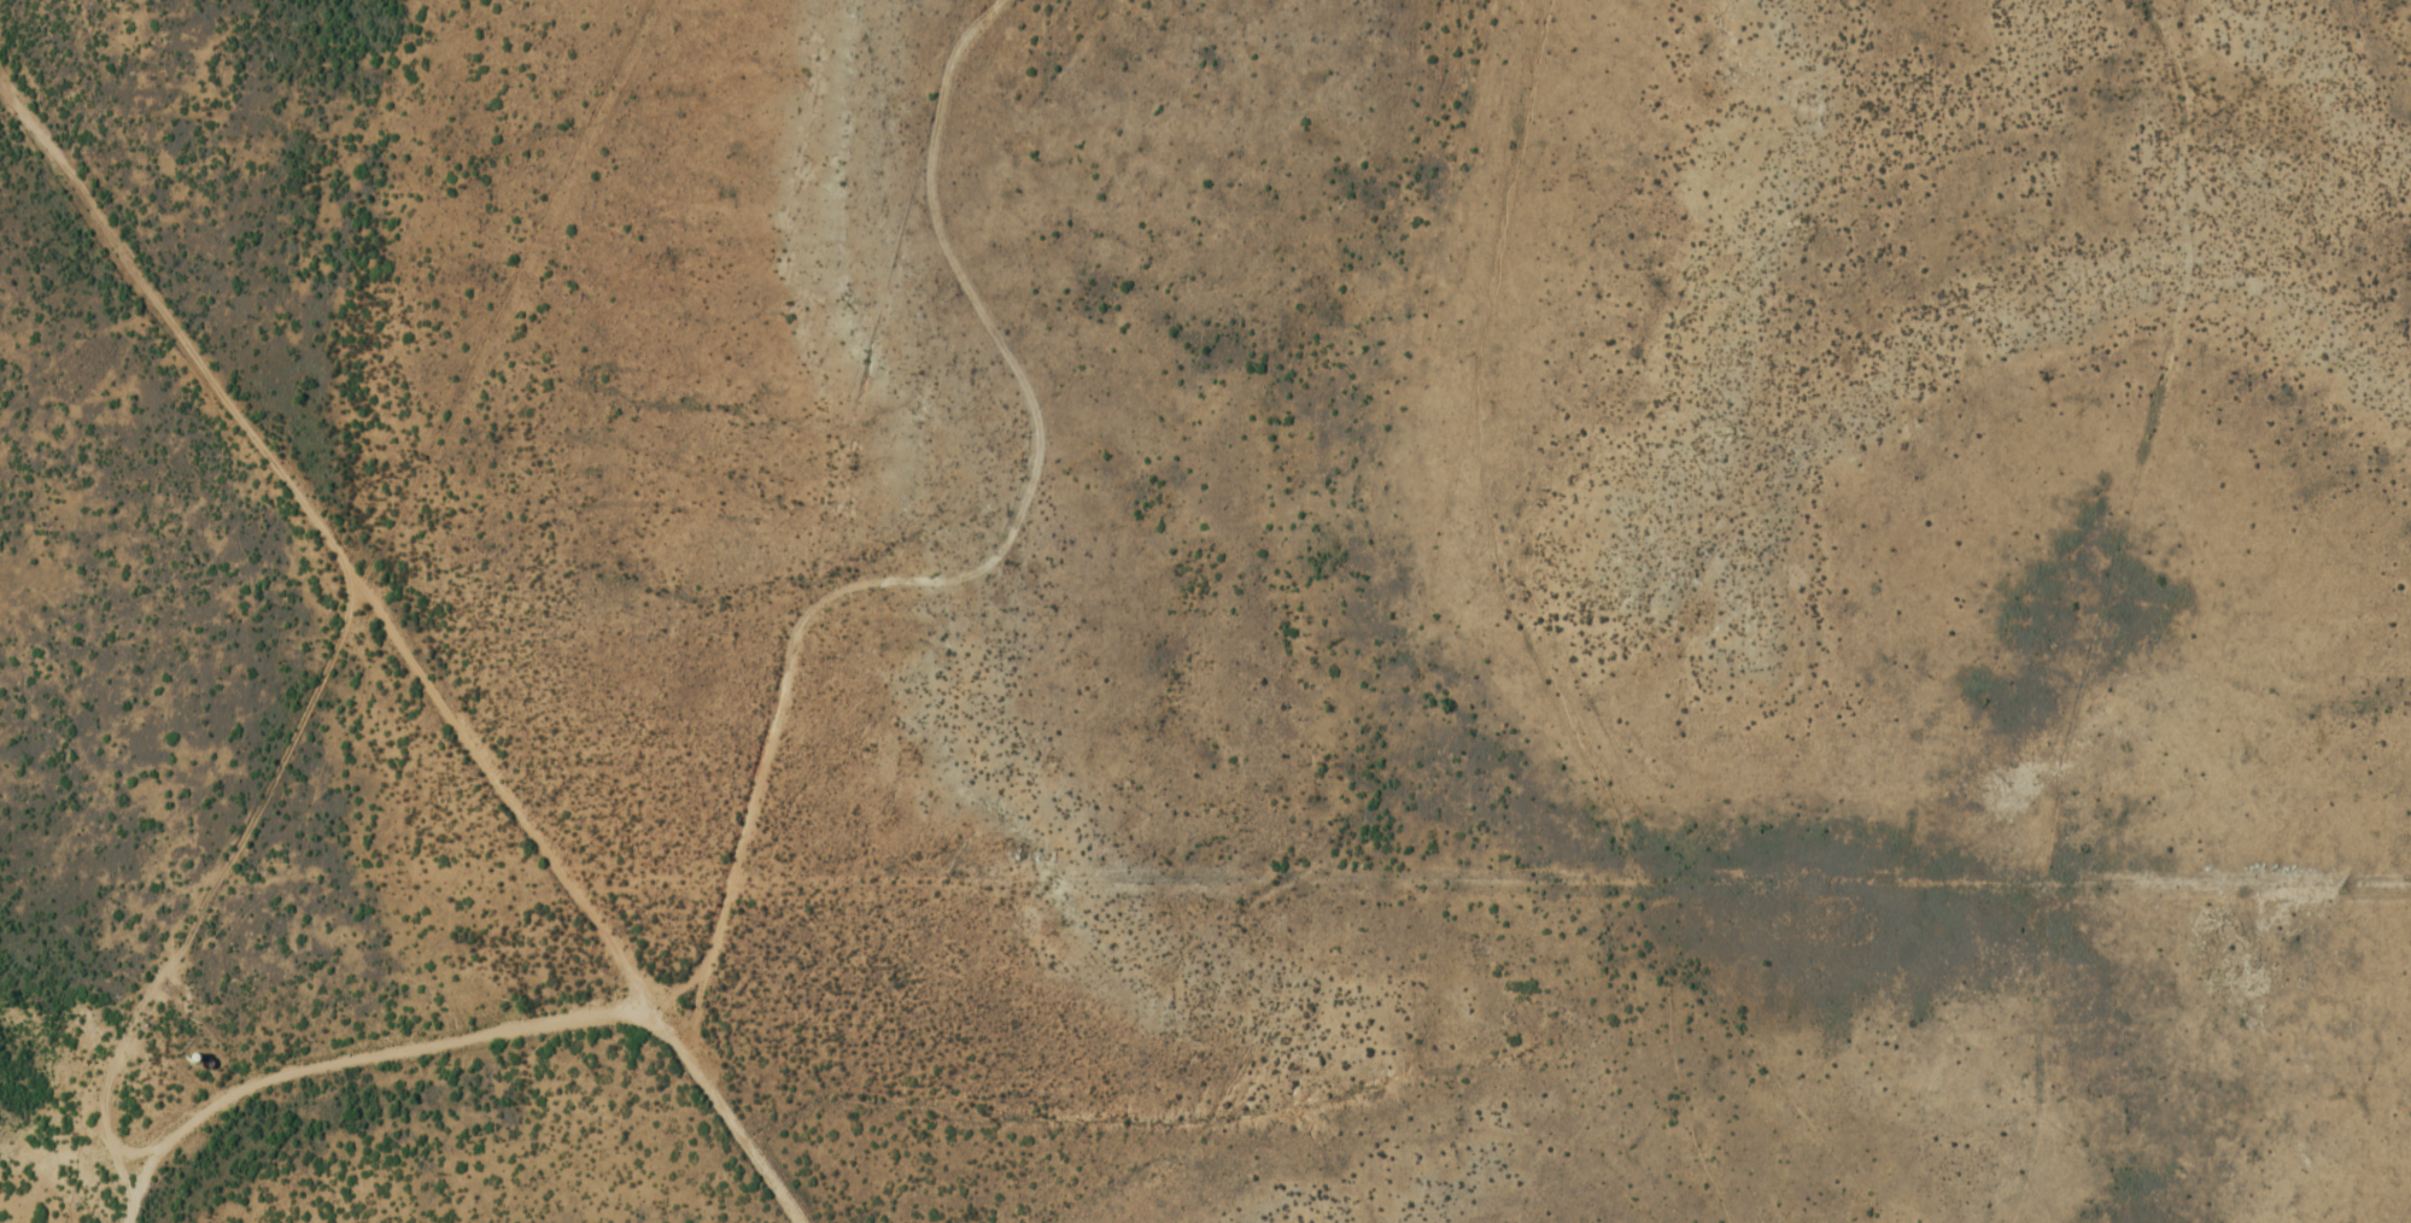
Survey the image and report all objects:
road: (390, 543)
road: (349, 556)
road: (870, 581)
road: (346, 1060)

